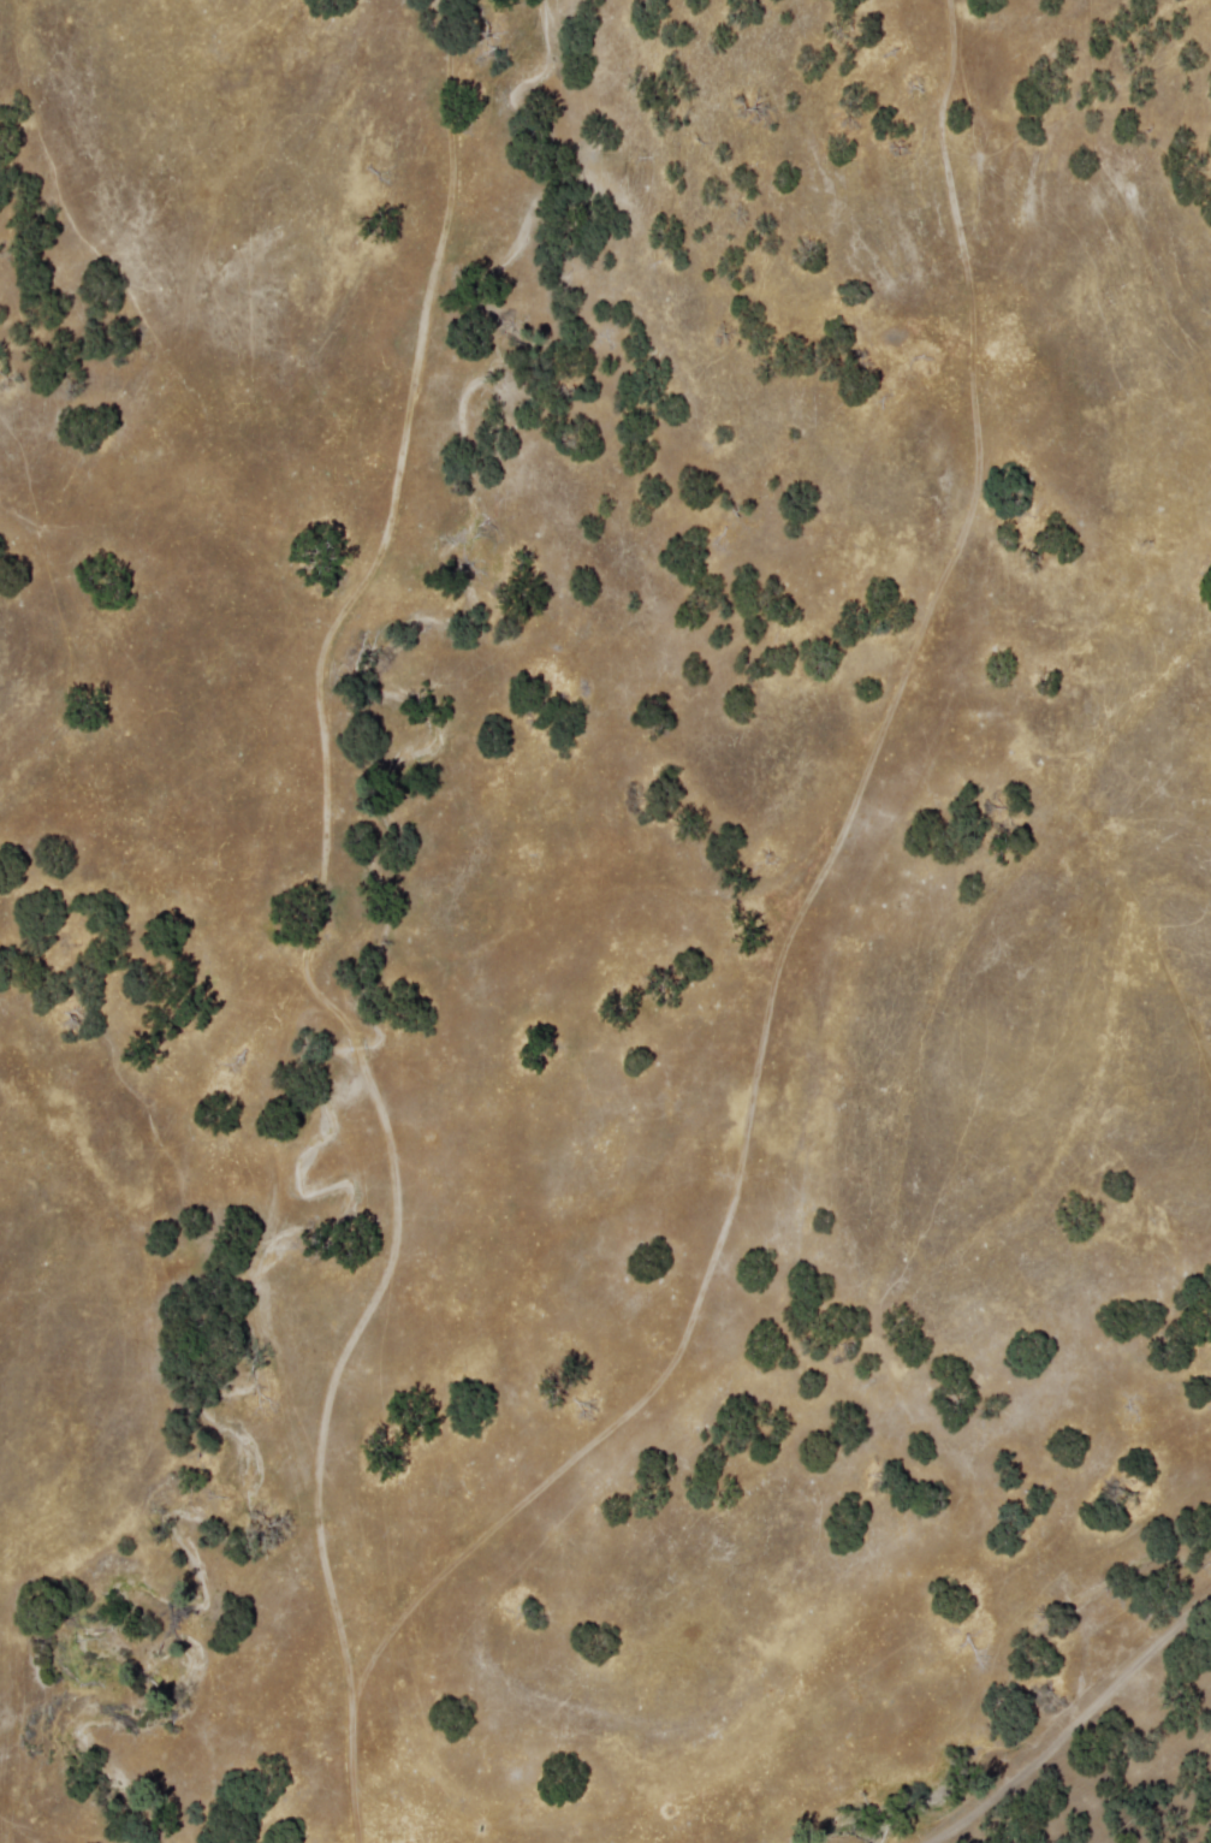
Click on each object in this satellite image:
road: (1074, 1725)

